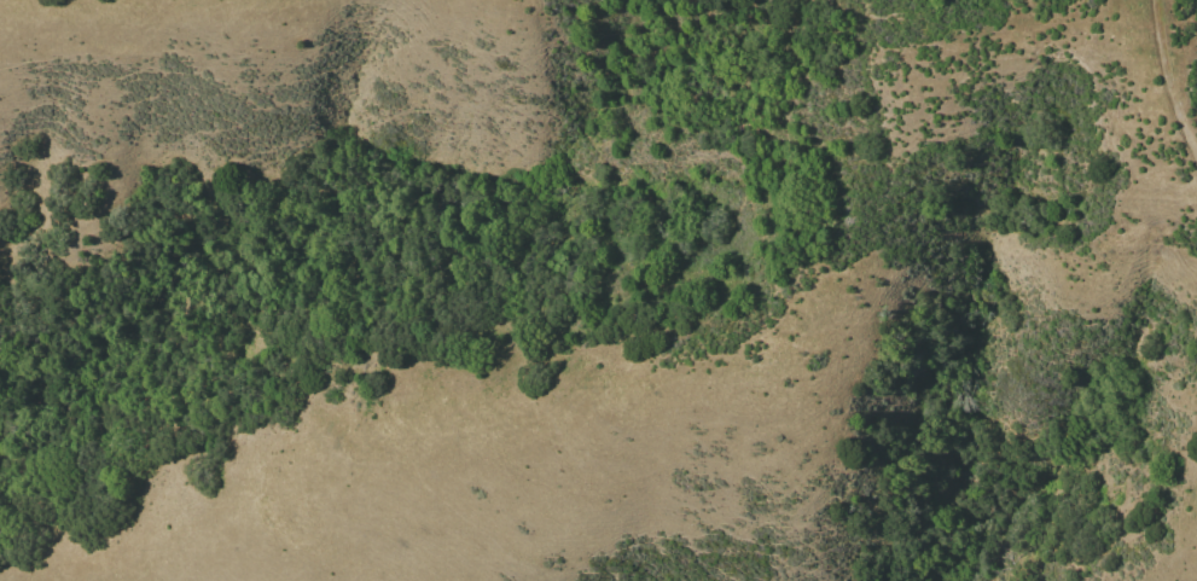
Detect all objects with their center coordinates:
road: (1166, 83)

